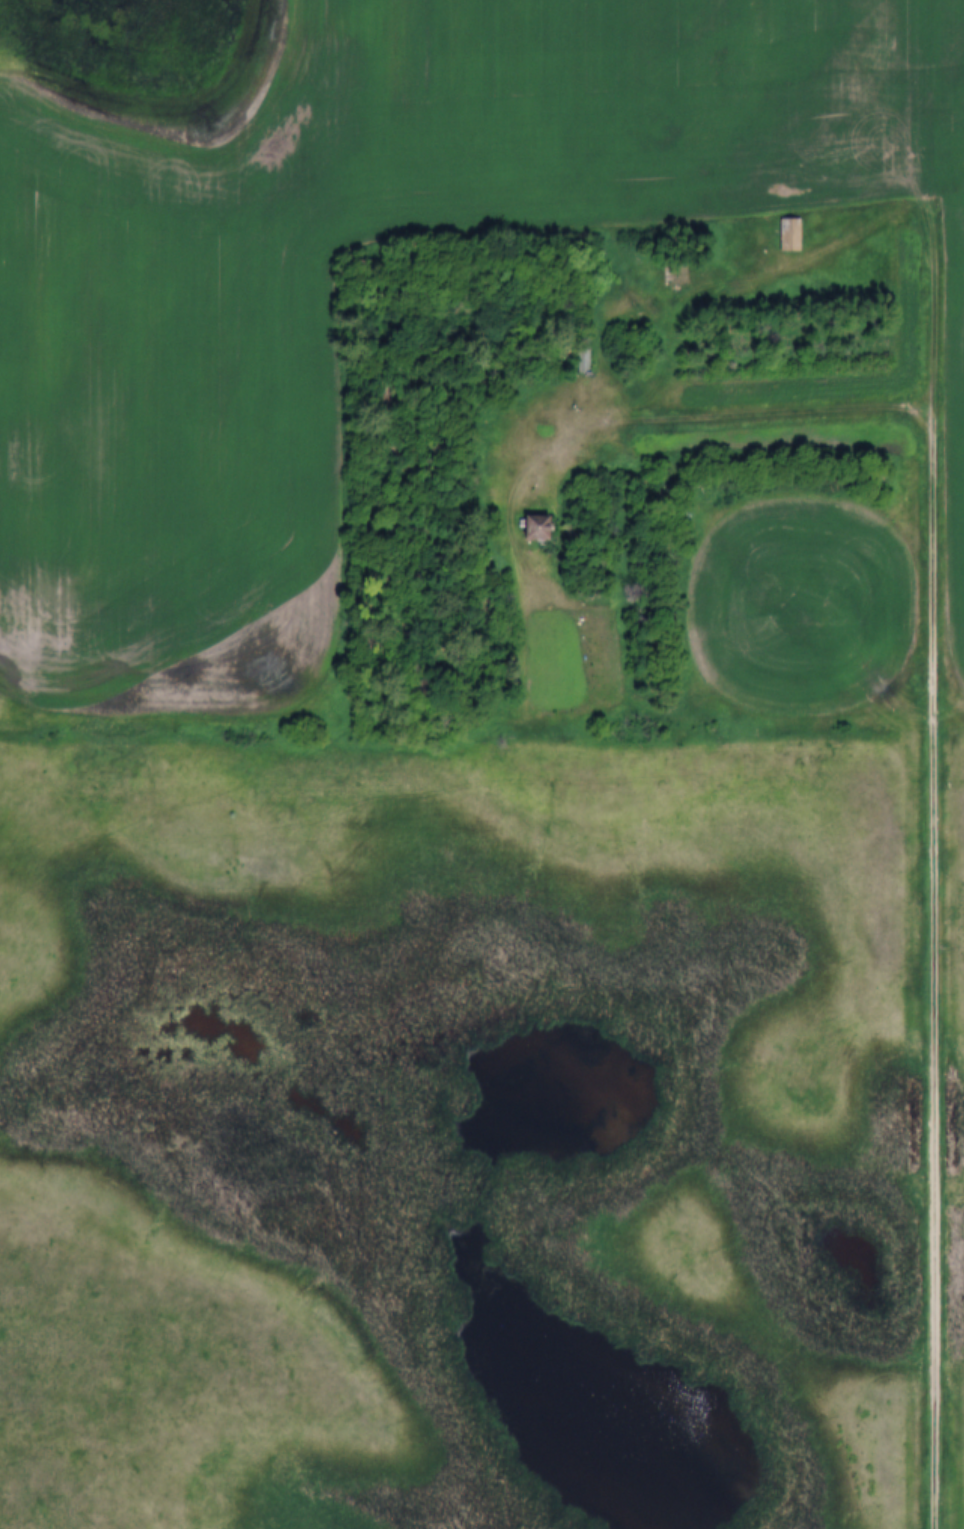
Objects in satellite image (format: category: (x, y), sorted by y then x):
road: (936, 216)
building: (787, 235)
building: (584, 361)
road: (604, 421)
building: (527, 527)
road: (468, 745)
road: (937, 980)

